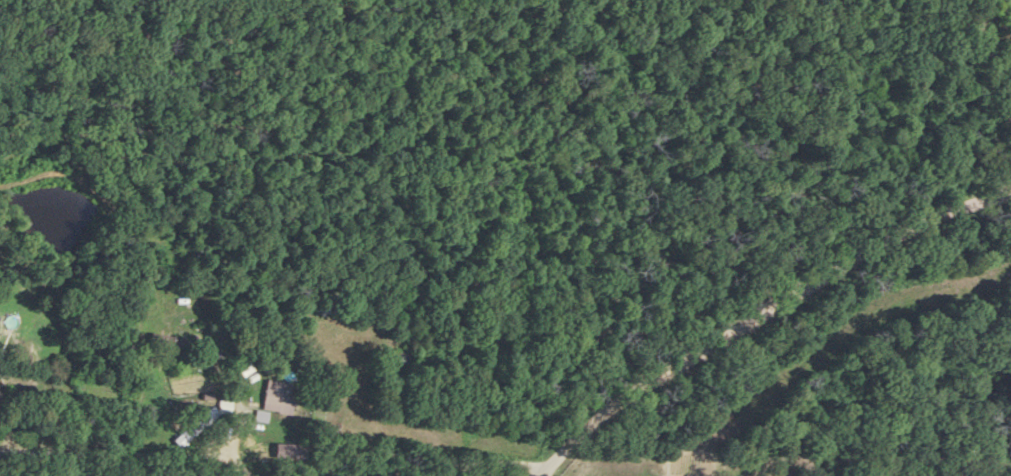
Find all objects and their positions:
building: (329, 305)
road: (761, 316)
road: (779, 371)
building: (278, 397)
building: (190, 427)
road: (452, 449)
building: (288, 451)

